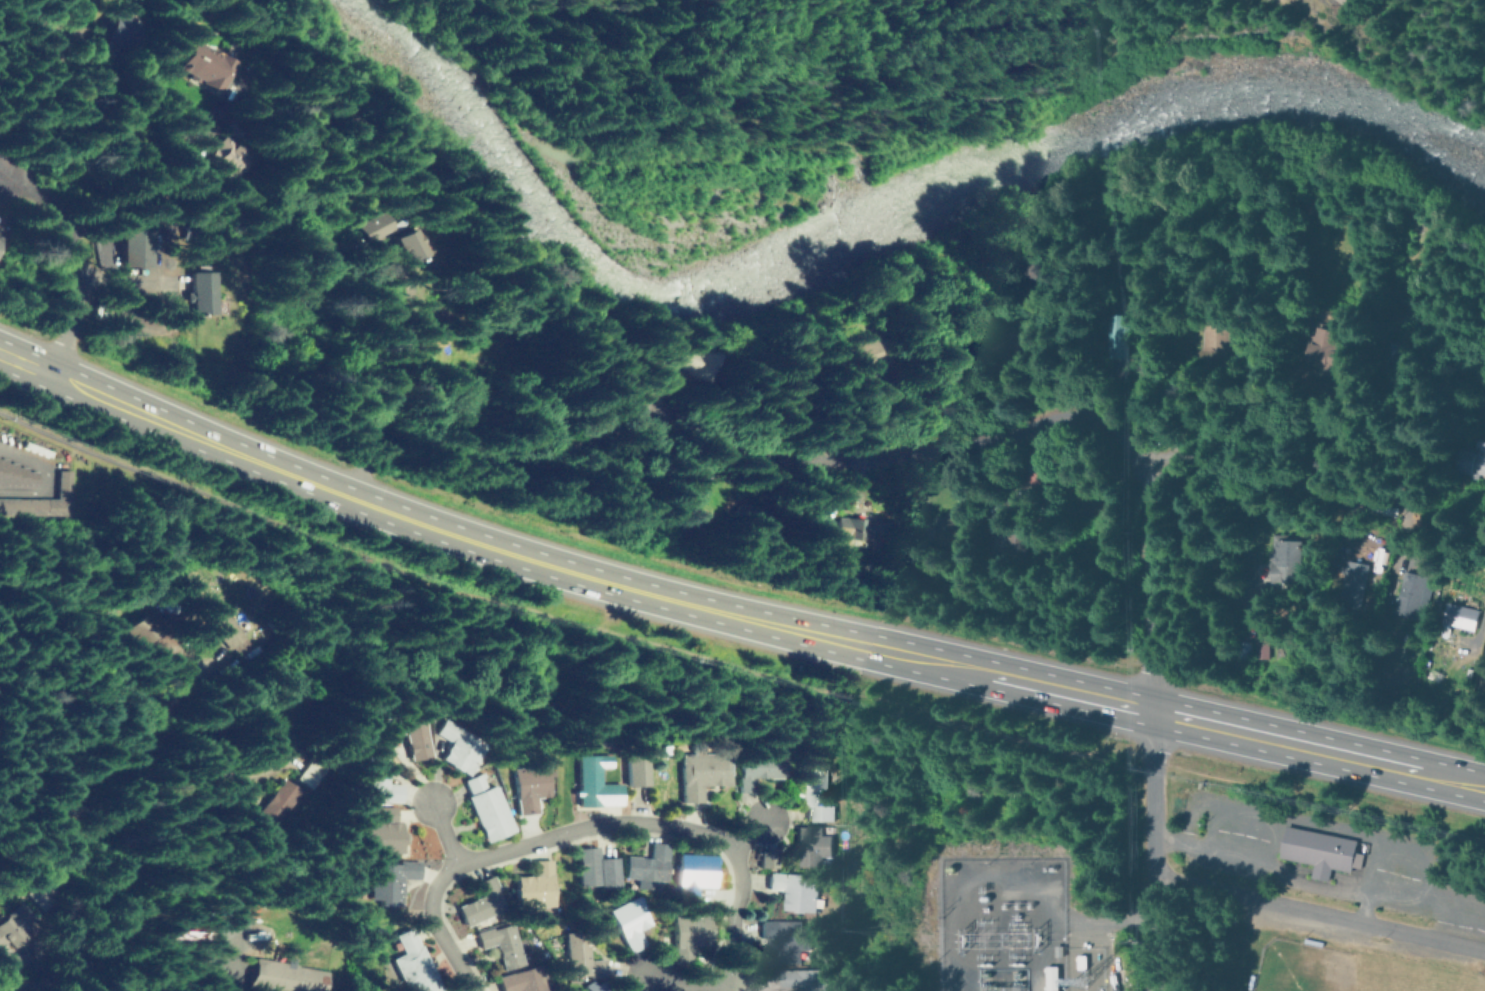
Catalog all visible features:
building: (1344, 2)
building: (111, 31)
building: (190, 67)
building: (217, 159)
road: (87, 180)
road: (147, 208)
building: (353, 227)
river: (881, 238)
building: (393, 247)
building: (132, 249)
road: (75, 257)
building: (201, 294)
road: (1347, 314)
building: (974, 321)
road: (1346, 333)
building: (1123, 337)
building: (1224, 337)
building: (1329, 349)
building: (849, 357)
building: (674, 360)
road: (1062, 416)
road: (378, 423)
building: (1470, 461)
building: (15, 474)
building: (689, 488)
building: (57, 498)
building: (862, 529)
building: (945, 530)
building: (1017, 544)
building: (1286, 558)
building: (1096, 564)
road: (1214, 569)
road: (1151, 580)
building: (1353, 583)
building: (1411, 595)
road: (729, 611)
building: (1459, 616)
building: (149, 623)
building: (228, 630)
building: (1262, 649)
road: (77, 692)
building: (409, 729)
building: (461, 747)
building: (758, 766)
building: (637, 769)
building: (703, 772)
building: (311, 774)
building: (380, 778)
building: (594, 782)
building: (529, 784)
building: (812, 788)
road: (564, 791)
building: (279, 804)
building: (83, 805)
building: (487, 806)
road: (594, 829)
building: (379, 831)
road: (446, 833)
road: (751, 834)
building: (808, 844)
building: (1316, 849)
road: (1154, 850)
road: (1275, 863)
building: (590, 864)
building: (645, 864)
building: (691, 871)
building: (388, 880)
building: (535, 885)
building: (793, 887)
building: (65, 896)
building: (482, 902)
building: (245, 907)
road: (1319, 911)
building: (629, 920)
power substation: (1002, 923)
building: (26, 928)
building: (686, 932)
building: (781, 936)
building: (501, 940)
building: (579, 955)
building: (413, 964)
park: (1323, 967)
building: (288, 976)
building: (804, 976)
building: (520, 978)
park: (1478, 983)
road: (695, 984)
building: (593, 986)

